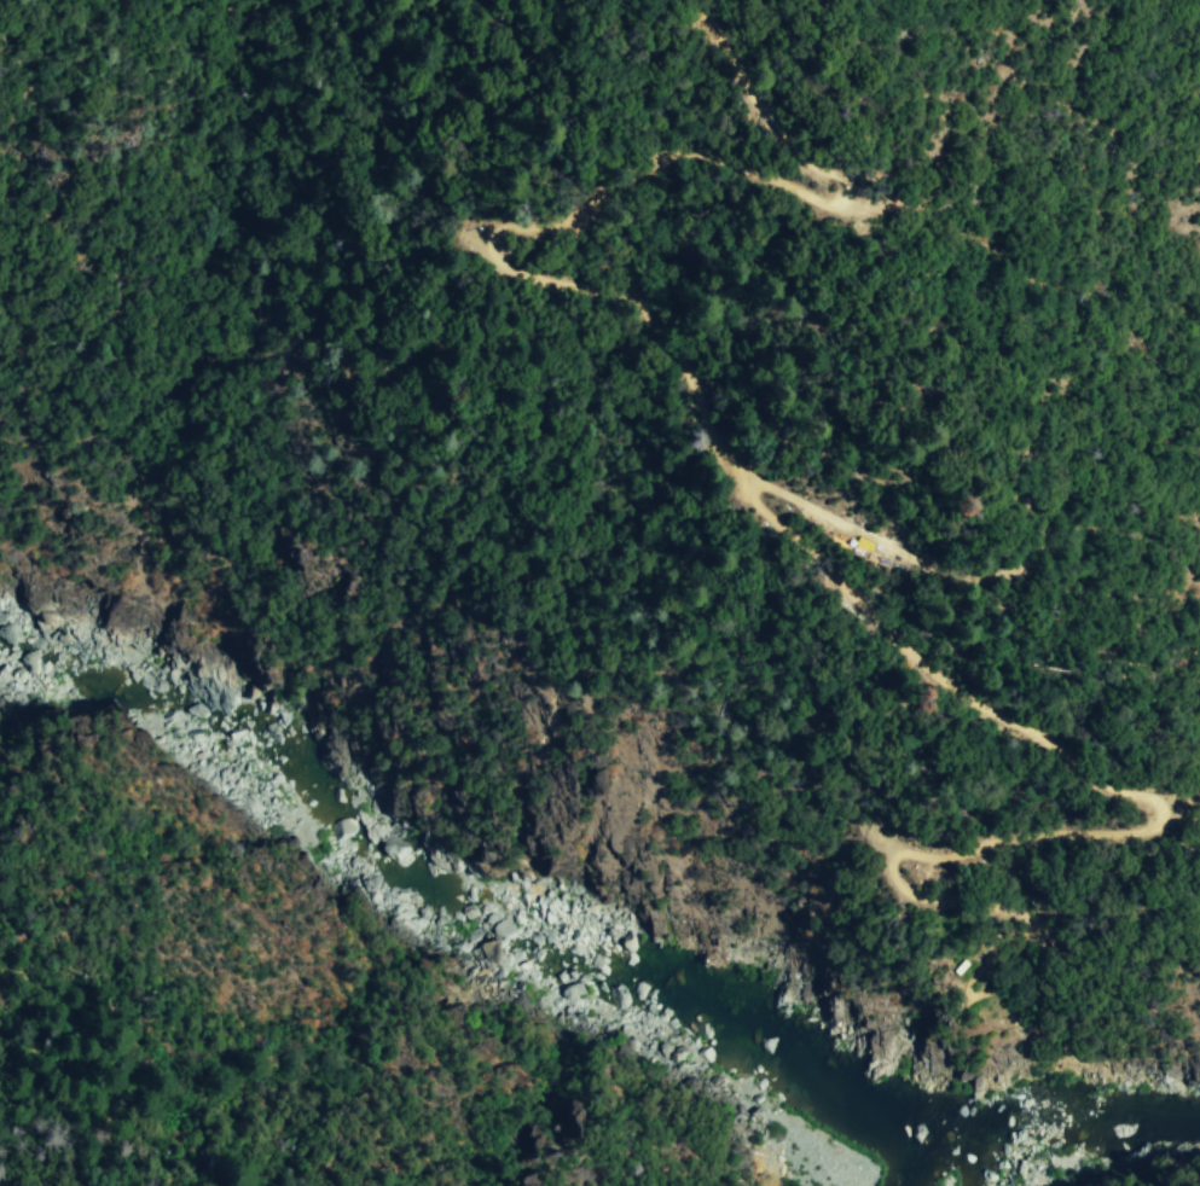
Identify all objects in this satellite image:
river: (464, 885)
river: (1055, 1112)
river: (911, 1167)

